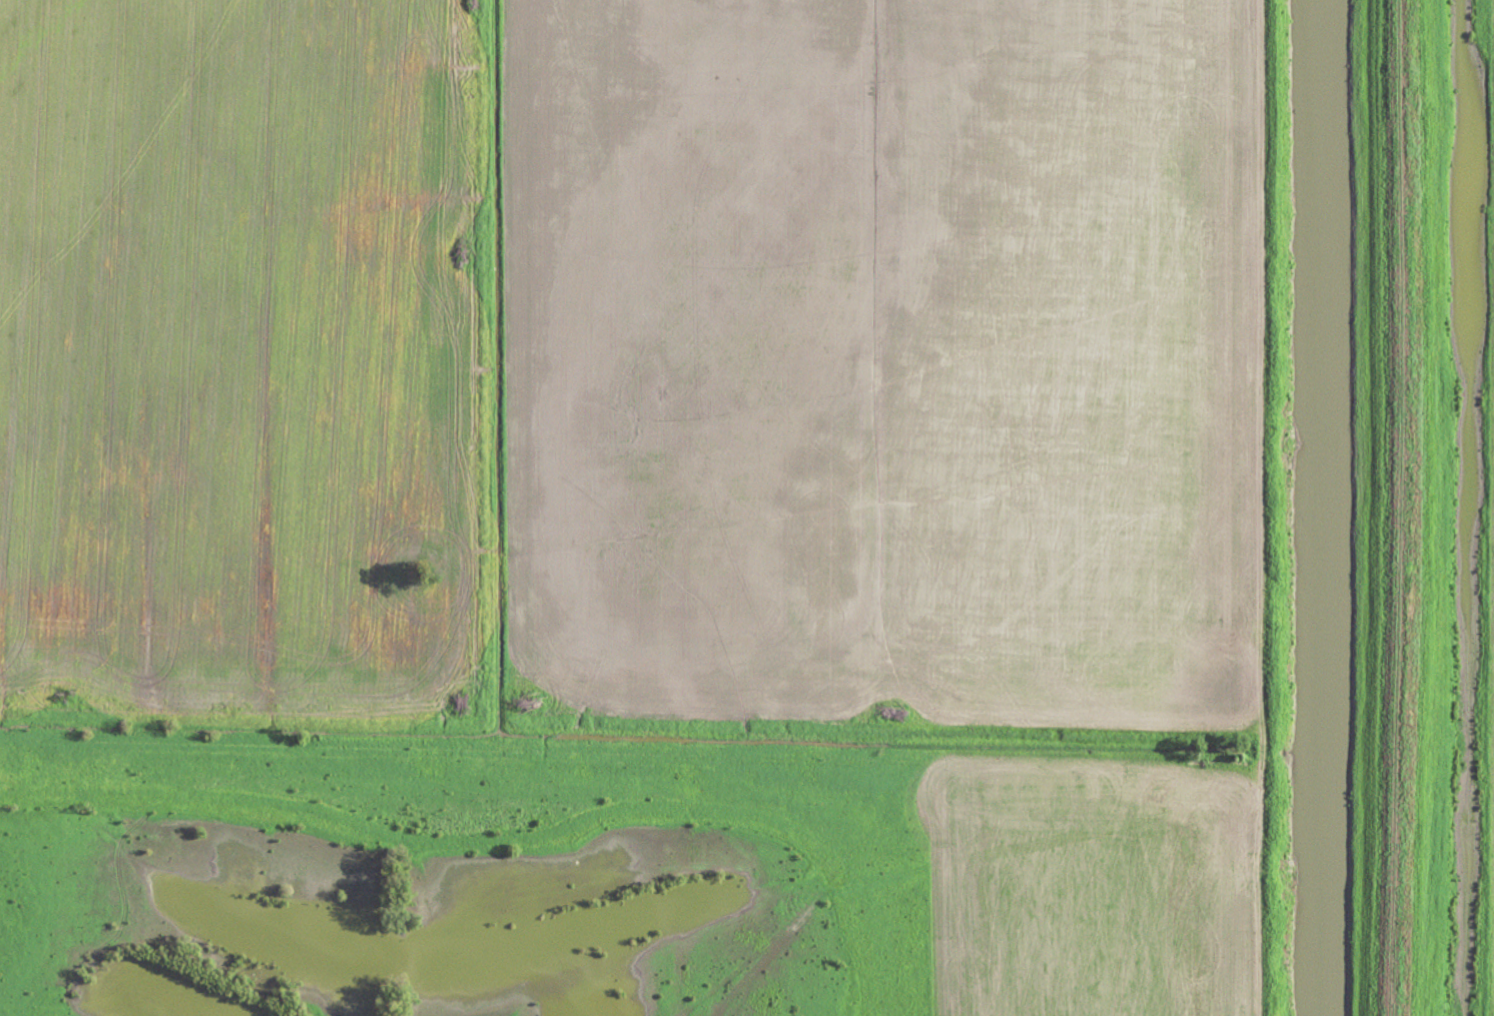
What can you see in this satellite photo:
river: (1316, 507)
road: (1266, 508)

